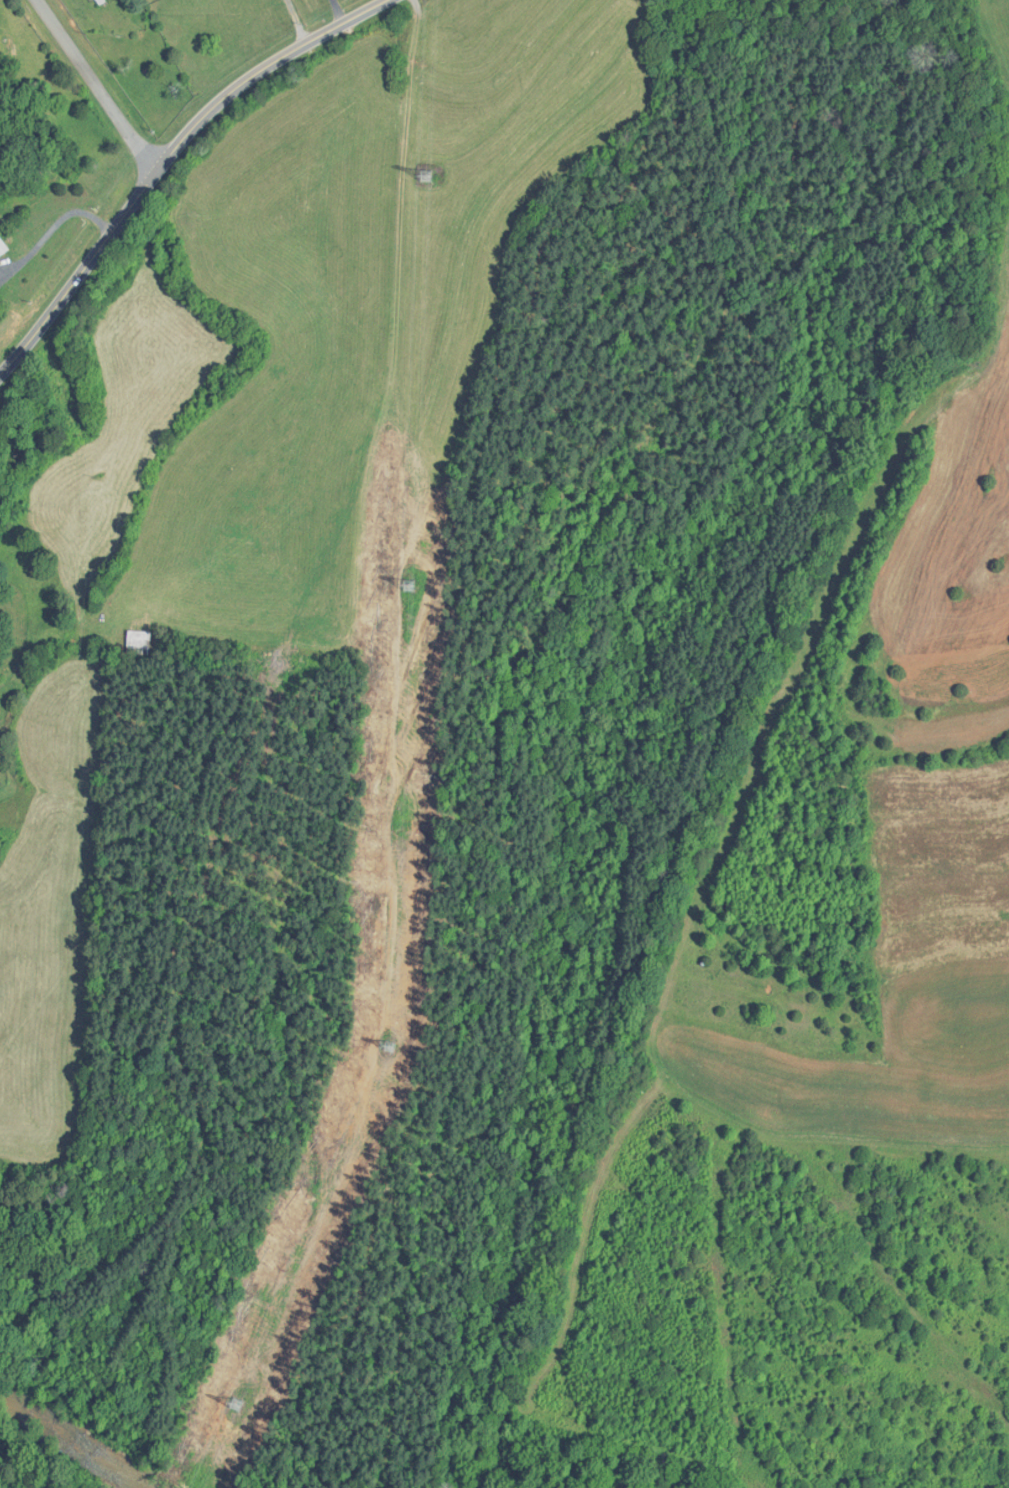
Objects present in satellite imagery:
road: (92, 87)
road: (167, 157)
building: (3, 251)
building: (136, 642)

